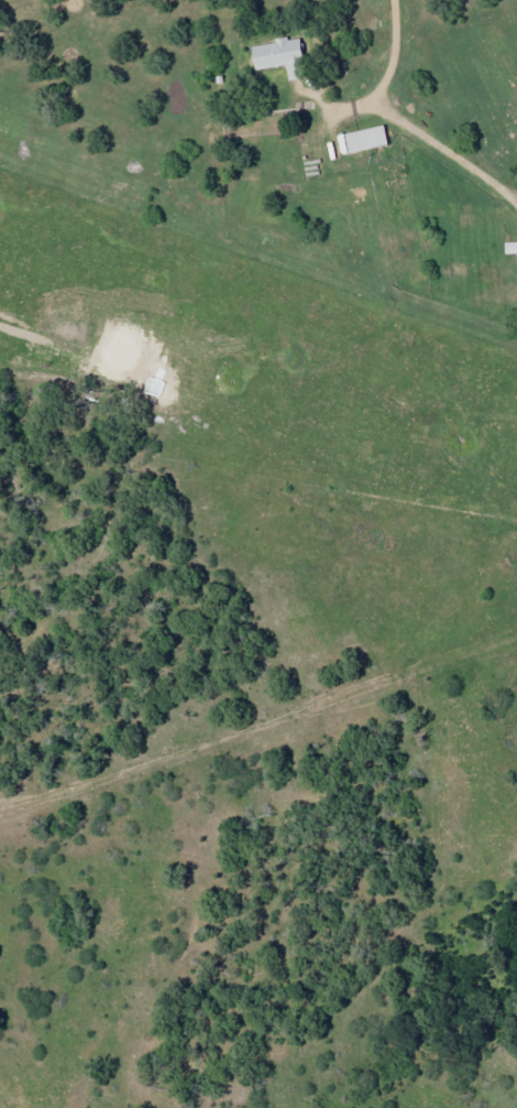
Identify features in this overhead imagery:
building: (275, 53)
building: (360, 139)
building: (509, 247)

